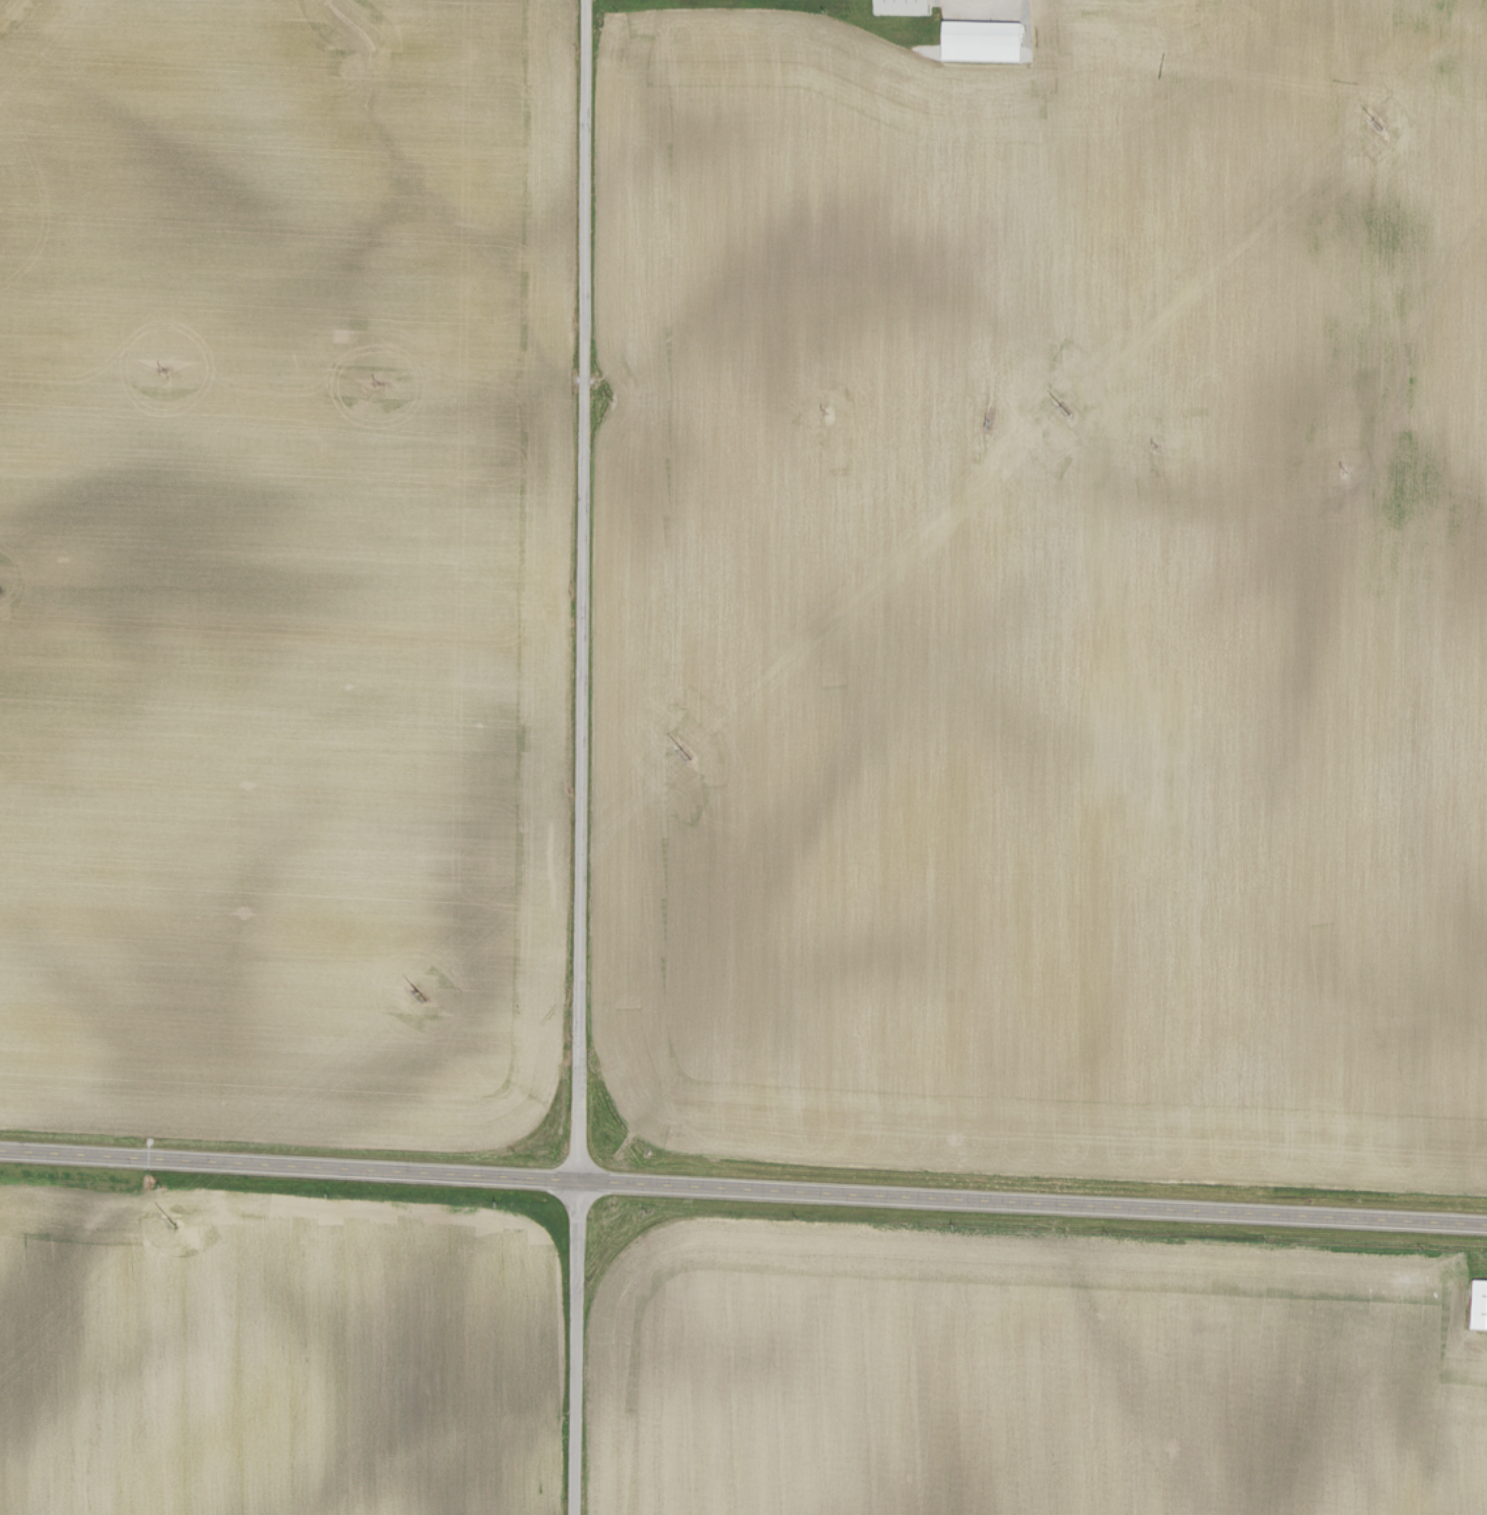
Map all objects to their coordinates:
building: (899, 6)
building: (979, 40)
power tower: (1376, 129)
power tower: (1068, 414)
road: (583, 757)
power tower: (688, 759)
power tower: (419, 1001)
road: (743, 1190)
power tower: (173, 1226)
building: (1479, 1304)

